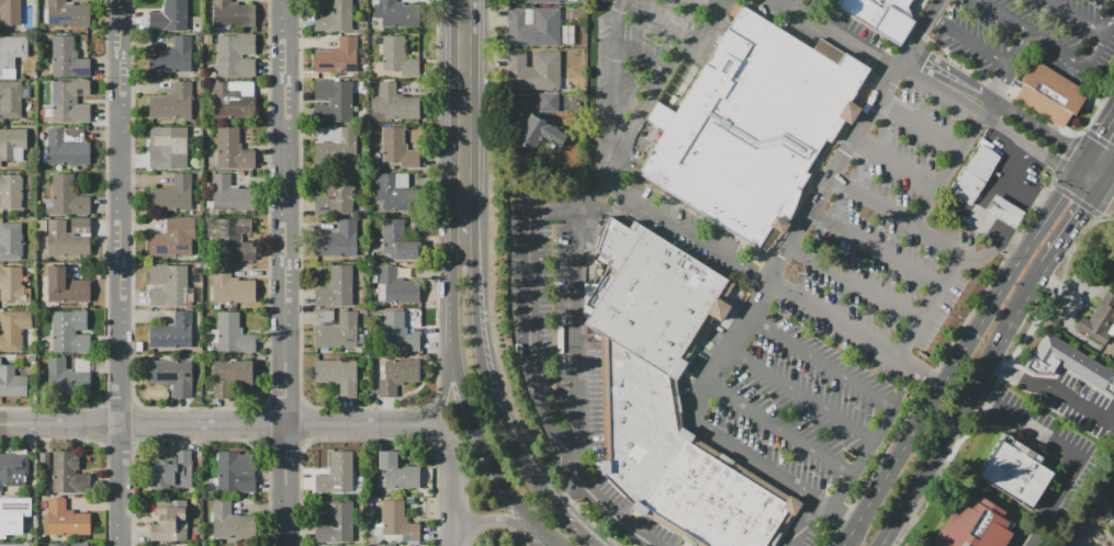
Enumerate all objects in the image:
building: (541, 1)
road: (712, 4)
road: (813, 7)
building: (230, 14)
building: (396, 14)
building: (10, 15)
building: (67, 15)
building: (881, 15)
building: (169, 18)
building: (336, 18)
road: (1078, 18)
road: (655, 20)
road: (924, 25)
road: (1110, 26)
building: (535, 29)
parking lot: (1029, 33)
road: (842, 34)
building: (207, 38)
road: (968, 42)
road: (1047, 45)
building: (11, 55)
building: (235, 56)
building: (396, 56)
building: (171, 57)
building: (338, 57)
road: (641, 58)
building: (68, 59)
building: (363, 59)
road: (668, 66)
building: (533, 70)
road: (948, 73)
building: (357, 76)
building: (1050, 93)
building: (336, 98)
building: (10, 101)
building: (70, 103)
building: (549, 103)
building: (172, 104)
building: (232, 104)
building: (393, 105)
road: (465, 115)
road: (986, 118)
building: (752, 125)
road: (920, 125)
road: (1037, 126)
road: (1099, 129)
traffic signals: (1098, 133)
building: (536, 135)
building: (12, 145)
building: (345, 147)
building: (230, 149)
building: (64, 150)
building: (401, 150)
building: (170, 151)
traffic signals: (1057, 160)
road: (1100, 162)
road: (894, 166)
building: (975, 173)
road: (1105, 174)
road: (1093, 184)
building: (370, 187)
road: (1026, 190)
building: (13, 192)
building: (393, 192)
building: (171, 195)
building: (228, 195)
building: (335, 195)
building: (67, 196)
road: (873, 202)
road: (982, 203)
road: (927, 207)
building: (1005, 211)
traffic signals: (1080, 211)
building: (364, 212)
road: (1070, 225)
road: (688, 231)
building: (61, 240)
building: (172, 241)
building: (236, 241)
building: (338, 241)
building: (398, 241)
building: (11, 242)
road: (875, 249)
road: (983, 254)
building: (198, 264)
road: (124, 272)
road: (288, 272)
road: (577, 283)
building: (12, 285)
road: (853, 285)
building: (67, 287)
building: (170, 287)
building: (230, 287)
building: (396, 287)
road: (1078, 287)
building: (335, 288)
road: (451, 298)
parking lot: (848, 298)
building: (217, 307)
road: (1062, 309)
building: (363, 311)
road: (746, 316)
building: (1099, 322)
road: (528, 326)
building: (13, 330)
road: (852, 332)
building: (69, 333)
building: (171, 333)
building: (338, 333)
building: (397, 333)
building: (232, 334)
road: (960, 349)
building: (1068, 364)
building: (56, 372)
road: (835, 372)
building: (230, 376)
building: (338, 376)
building: (398, 376)
building: (173, 378)
building: (12, 383)
road: (490, 387)
road: (1056, 389)
road: (799, 395)
building: (668, 396)
road: (442, 397)
road: (965, 407)
road: (468, 412)
road: (217, 424)
road: (693, 430)
road: (777, 430)
road: (1055, 441)
building: (44, 460)
building: (13, 468)
building: (171, 471)
building: (239, 473)
building: (396, 473)
road: (663, 473)
building: (68, 474)
building: (336, 474)
building: (1016, 474)
road: (852, 476)
road: (452, 481)
road: (507, 487)
road: (567, 492)
building: (13, 514)
road: (488, 517)
road: (633, 519)
building: (64, 520)
building: (230, 521)
building: (335, 521)
building: (397, 521)
building: (1109, 521)
building: (171, 523)
road: (800, 523)
building: (975, 526)
road: (539, 533)
road: (583, 535)
road: (1031, 542)
building: (33, 544)
building: (13, 545)
building: (57, 545)
building: (80, 545)
building: (181, 545)

